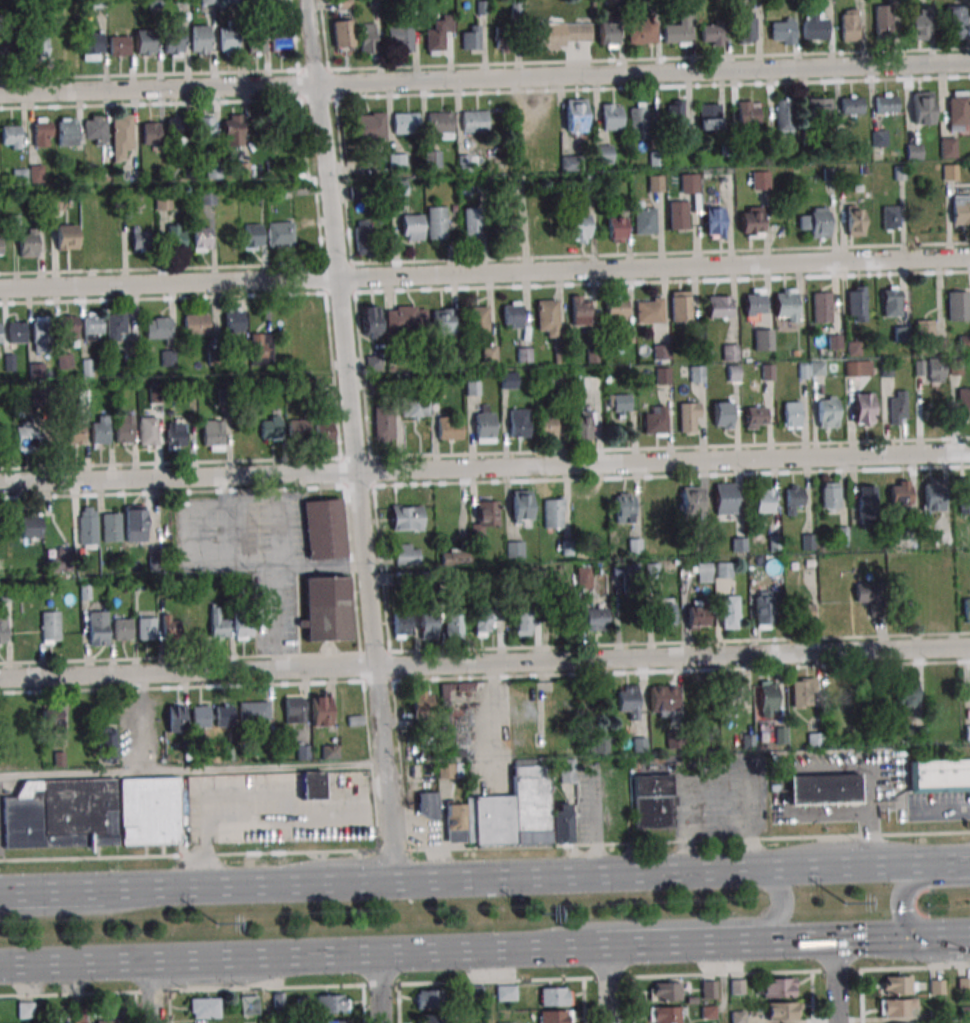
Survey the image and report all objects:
building: (233, 1)
building: (259, 1)
building: (207, 2)
building: (343, 4)
building: (883, 20)
building: (954, 21)
building: (849, 25)
building: (919, 25)
building: (814, 26)
building: (744, 27)
building: (678, 29)
building: (782, 31)
building: (641, 32)
building: (437, 33)
building: (607, 33)
building: (712, 33)
building: (560, 34)
building: (342, 35)
building: (470, 37)
building: (200, 39)
building: (504, 39)
building: (368, 40)
building: (400, 40)
building: (173, 41)
building: (227, 41)
building: (145, 42)
building: (255, 43)
building: (38, 44)
building: (279, 44)
building: (91, 46)
building: (119, 46)
road: (485, 84)
building: (886, 102)
building: (851, 104)
building: (819, 106)
building: (922, 107)
building: (957, 110)
building: (674, 112)
building: (748, 113)
building: (575, 115)
building: (784, 116)
building: (611, 117)
building: (709, 117)
building: (474, 121)
building: (639, 121)
building: (405, 123)
building: (440, 124)
building: (369, 125)
building: (205, 128)
building: (94, 130)
building: (232, 130)
building: (67, 131)
building: (178, 131)
building: (41, 132)
building: (151, 133)
building: (120, 135)
building: (10, 137)
building: (879, 138)
building: (947, 147)
building: (913, 151)
building: (603, 154)
building: (432, 159)
building: (396, 161)
building: (572, 161)
building: (466, 163)
building: (949, 171)
building: (36, 173)
building: (19, 176)
building: (760, 180)
building: (655, 183)
building: (688, 183)
building: (397, 187)
building: (206, 197)
building: (163, 202)
building: (960, 209)
building: (678, 214)
building: (890, 217)
building: (644, 219)
building: (854, 220)
building: (714, 222)
building: (751, 222)
building: (816, 222)
building: (436, 223)
building: (471, 225)
building: (411, 227)
building: (579, 228)
building: (616, 228)
building: (543, 230)
building: (279, 234)
building: (252, 235)
building: (362, 236)
building: (506, 236)
building: (67, 237)
building: (175, 237)
building: (140, 238)
building: (201, 239)
building: (27, 242)
building: (0, 244)
road: (485, 277)
building: (754, 302)
building: (891, 302)
building: (856, 303)
building: (785, 304)
building: (958, 305)
building: (679, 306)
building: (721, 306)
building: (822, 307)
building: (580, 310)
building: (616, 310)
building: (649, 310)
building: (512, 315)
building: (405, 318)
building: (547, 318)
building: (233, 319)
building: (478, 319)
building: (370, 320)
building: (442, 321)
building: (196, 324)
building: (92, 326)
building: (115, 326)
building: (157, 327)
building: (68, 328)
building: (924, 330)
building: (16, 332)
building: (0, 333)
building: (40, 334)
building: (762, 339)
building: (964, 342)
building: (260, 349)
building: (661, 351)
building: (729, 352)
building: (489, 353)
building: (167, 358)
building: (64, 361)
building: (852, 368)
building: (934, 369)
building: (36, 370)
building: (697, 374)
building: (663, 375)
building: (558, 378)
building: (507, 380)
building: (591, 384)
building: (154, 396)
building: (963, 402)
building: (620, 404)
building: (897, 407)
building: (414, 408)
building: (864, 408)
building: (826, 411)
building: (791, 414)
building: (722, 415)
building: (689, 417)
building: (754, 417)
building: (654, 420)
building: (518, 422)
building: (383, 424)
building: (484, 424)
building: (546, 424)
building: (581, 425)
building: (270, 427)
building: (325, 427)
building: (300, 428)
building: (449, 428)
building: (99, 429)
building: (124, 429)
building: (148, 431)
building: (75, 433)
building: (25, 435)
building: (212, 435)
building: (175, 437)
road: (350, 440)
road: (485, 472)
building: (899, 493)
building: (932, 493)
building: (963, 495)
building: (829, 496)
building: (793, 497)
building: (725, 498)
building: (690, 500)
building: (763, 500)
building: (623, 502)
building: (865, 502)
building: (520, 505)
building: (553, 512)
road: (276, 517)
building: (406, 517)
building: (484, 518)
building: (135, 523)
building: (30, 525)
building: (87, 527)
building: (111, 527)
building: (323, 528)
road: (225, 547)
building: (514, 549)
building: (406, 554)
building: (454, 557)
building: (58, 561)
building: (724, 570)
building: (703, 572)
road: (276, 574)
building: (583, 577)
building: (868, 597)
building: (326, 609)
building: (762, 609)
building: (802, 609)
building: (966, 609)
building: (664, 611)
building: (729, 611)
building: (630, 612)
building: (696, 615)
building: (595, 619)
building: (521, 622)
building: (481, 623)
building: (218, 624)
building: (244, 624)
building: (401, 625)
building: (427, 625)
building: (453, 626)
building: (50, 627)
building: (97, 628)
building: (146, 628)
building: (170, 628)
building: (122, 629)
building: (3, 630)
road: (485, 665)
building: (905, 690)
building: (801, 693)
building: (737, 694)
building: (766, 699)
building: (628, 700)
building: (421, 701)
building: (663, 701)
building: (293, 709)
building: (254, 710)
building: (319, 710)
building: (224, 714)
building: (202, 716)
road: (493, 717)
building: (175, 718)
building: (51, 722)
building: (967, 732)
building: (602, 742)
building: (107, 744)
road: (191, 769)
building: (449, 770)
building: (940, 775)
building: (311, 786)
building: (823, 789)
building: (651, 798)
building: (427, 806)
building: (91, 813)
building: (511, 813)
road: (715, 824)
road: (485, 847)
road: (945, 862)
road: (840, 866)
road: (757, 869)
road: (573, 874)
road: (247, 885)
road: (77, 890)
road: (26, 891)
road: (900, 898)
power tower: (846, 905)
road: (77, 910)
power tower: (538, 916)
road: (678, 923)
power tower: (217, 926)
road: (941, 936)
traffic signals: (913, 937)
road: (828, 940)
road: (659, 945)
road: (287, 957)
road: (484, 981)
road: (835, 981)
road: (607, 984)
building: (897, 985)
building: (936, 986)
building: (777, 987)
road: (380, 988)
building: (708, 989)
building: (665, 991)
road: (151, 992)
building: (505, 992)
building: (555, 996)
building: (428, 999)
building: (249, 1004)
building: (332, 1004)
building: (898, 1007)
building: (204, 1008)
building: (25, 1010)
building: (965, 1010)
building: (782, 1012)
building: (664, 1014)
building: (554, 1016)
building: (429, 1019)
building: (332, 1021)
building: (106, 1022)

